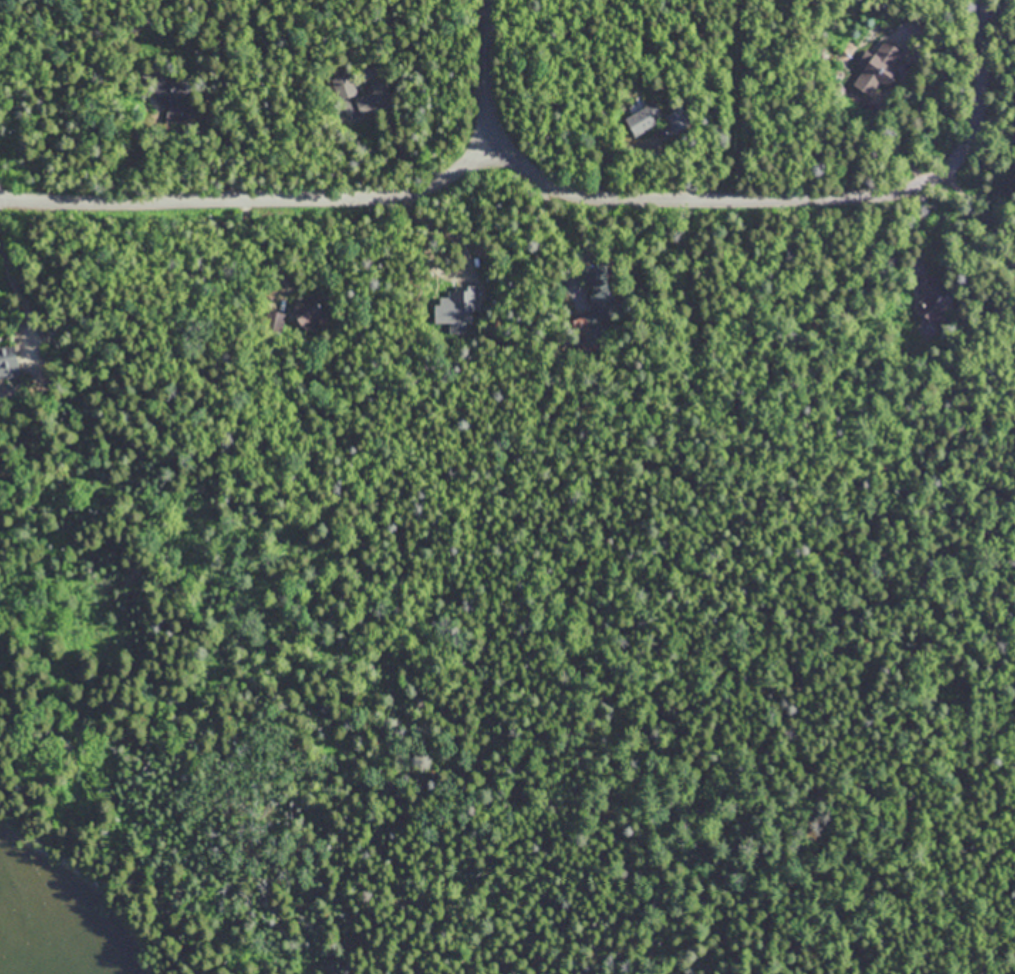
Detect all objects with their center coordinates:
building: (877, 69)
road: (489, 72)
building: (367, 99)
building: (642, 117)
road: (807, 200)
road: (255, 205)
building: (606, 298)
building: (933, 298)
road: (21, 299)
building: (309, 312)
building: (277, 320)
building: (7, 361)

